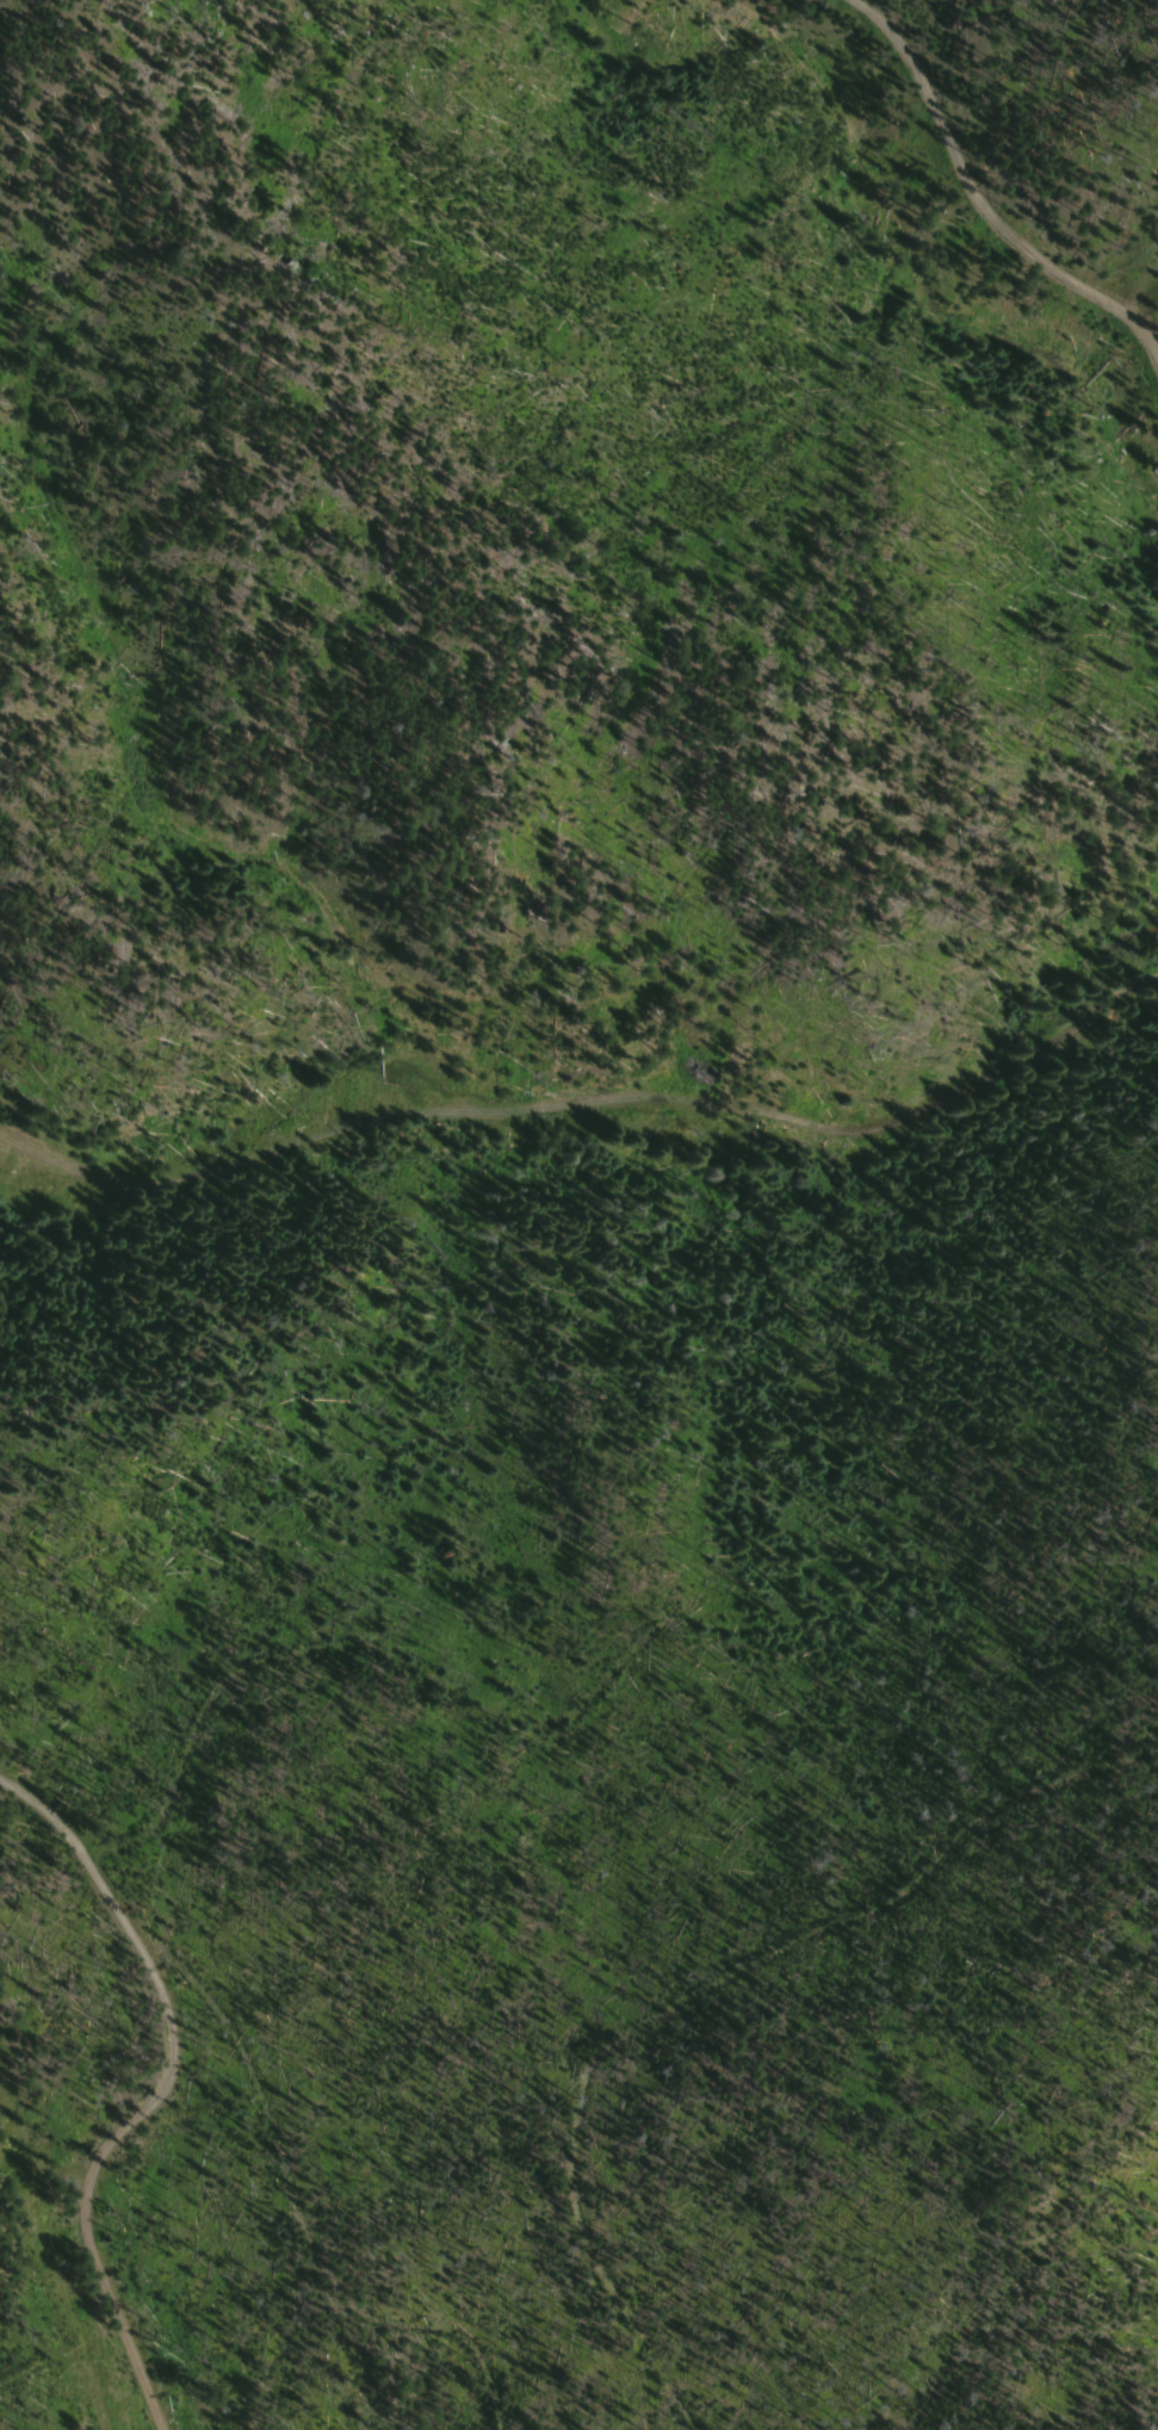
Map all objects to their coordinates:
road: (978, 203)
road: (588, 1102)
road: (148, 2091)

